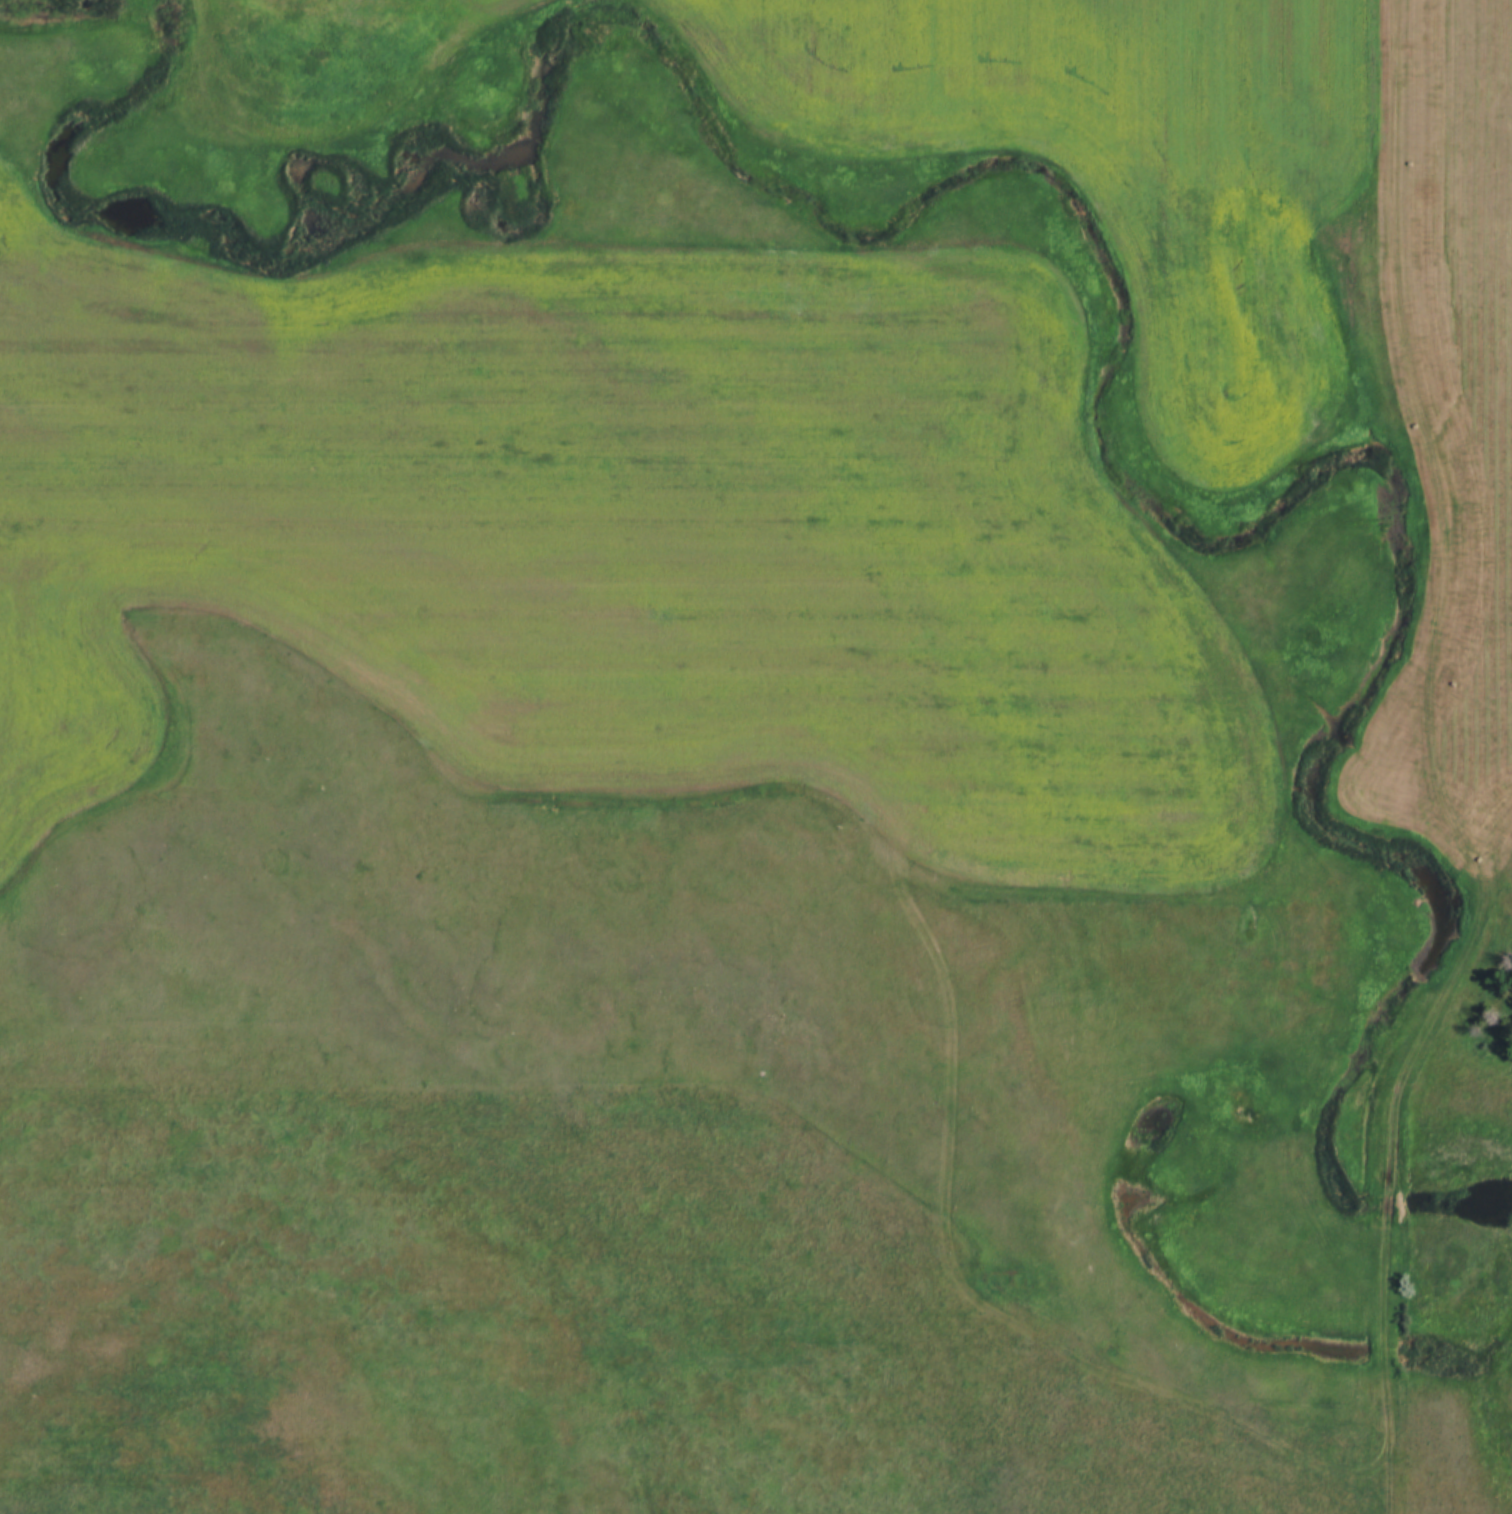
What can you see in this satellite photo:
road: (1433, 769)

